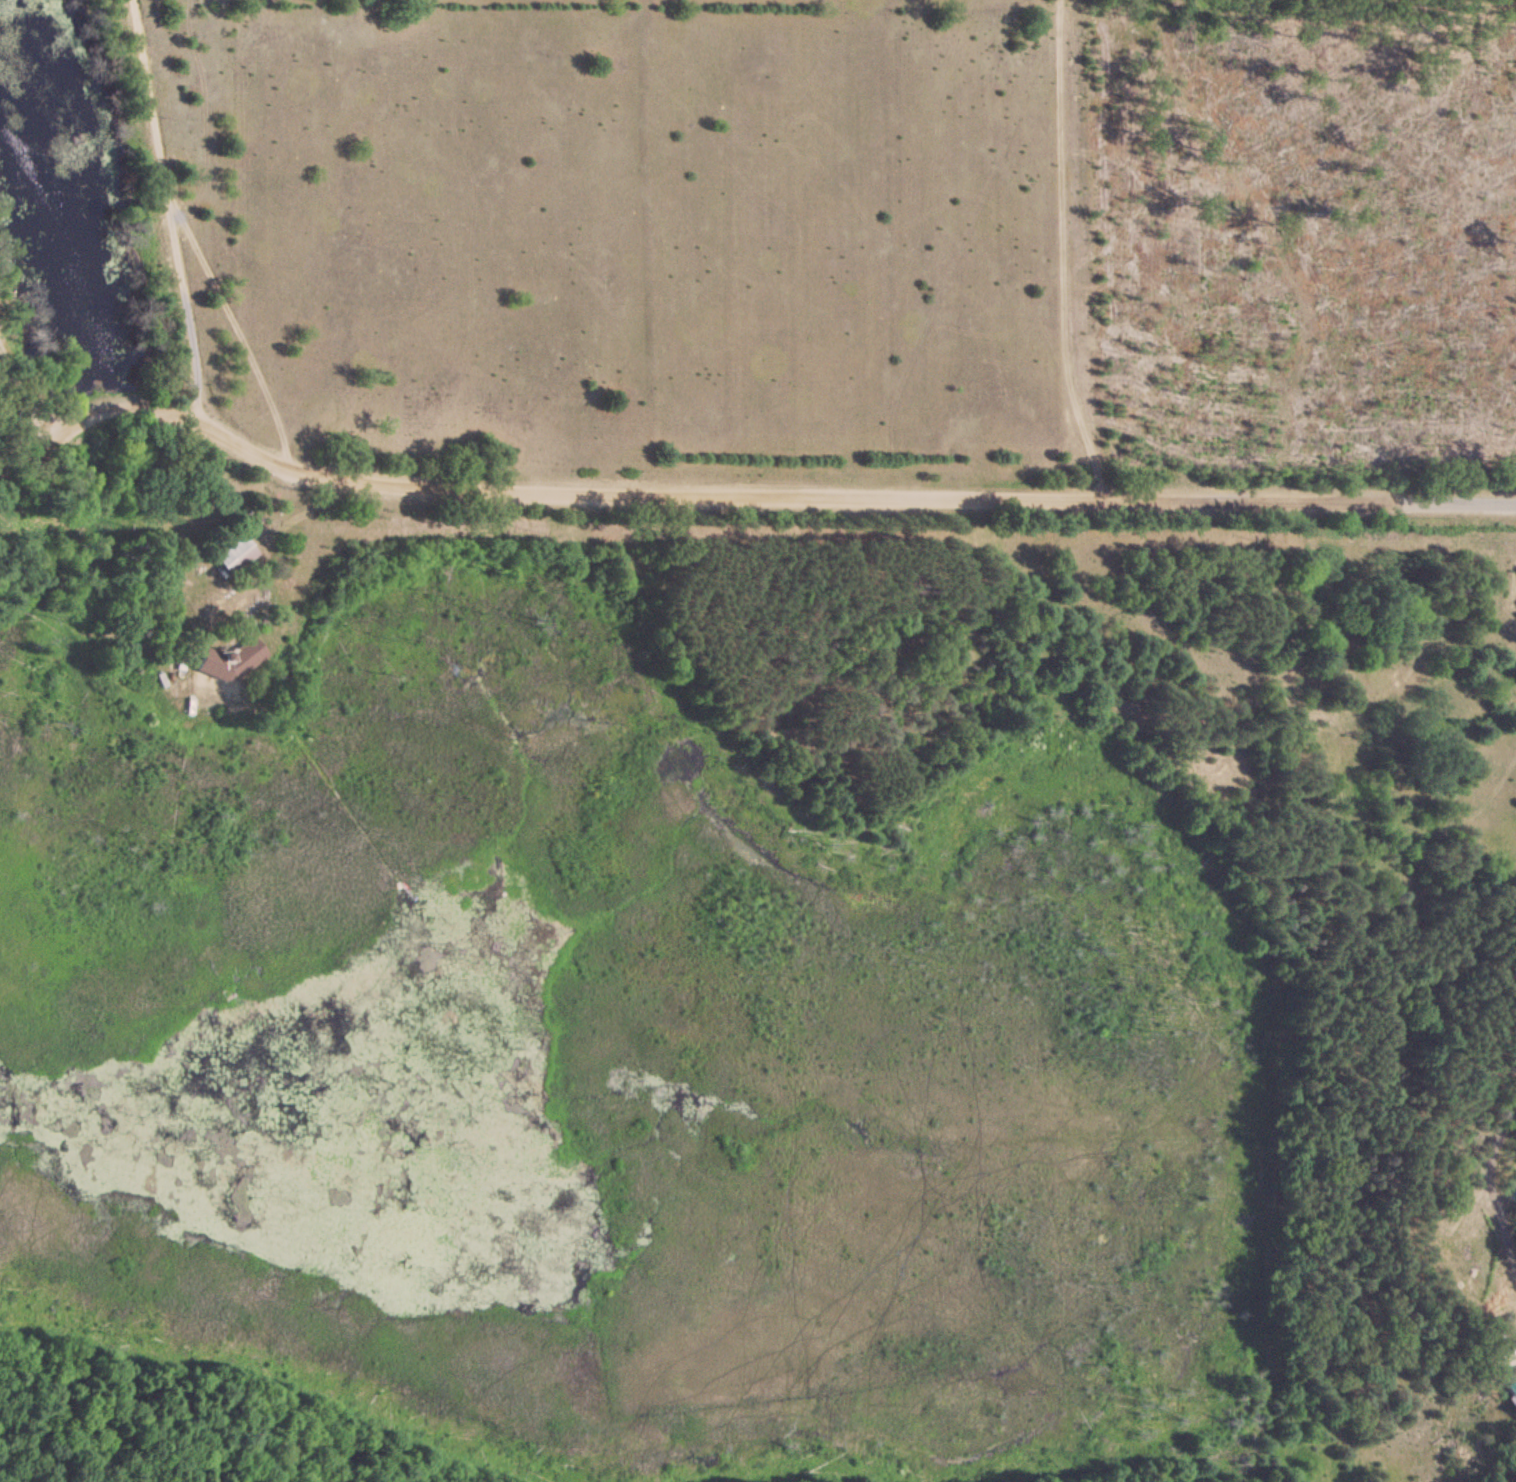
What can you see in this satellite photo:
road: (168, 209)
road: (727, 479)
building: (235, 556)
road: (1492, 1179)
building: (1504, 1362)
building: (1510, 1386)

